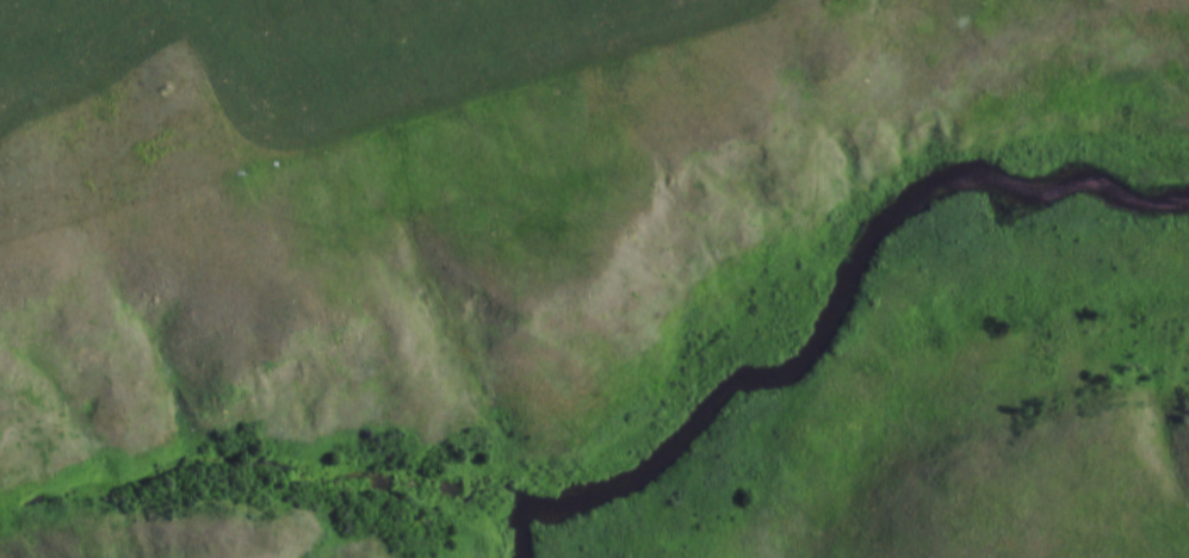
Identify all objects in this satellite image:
park: (1010, 279)

